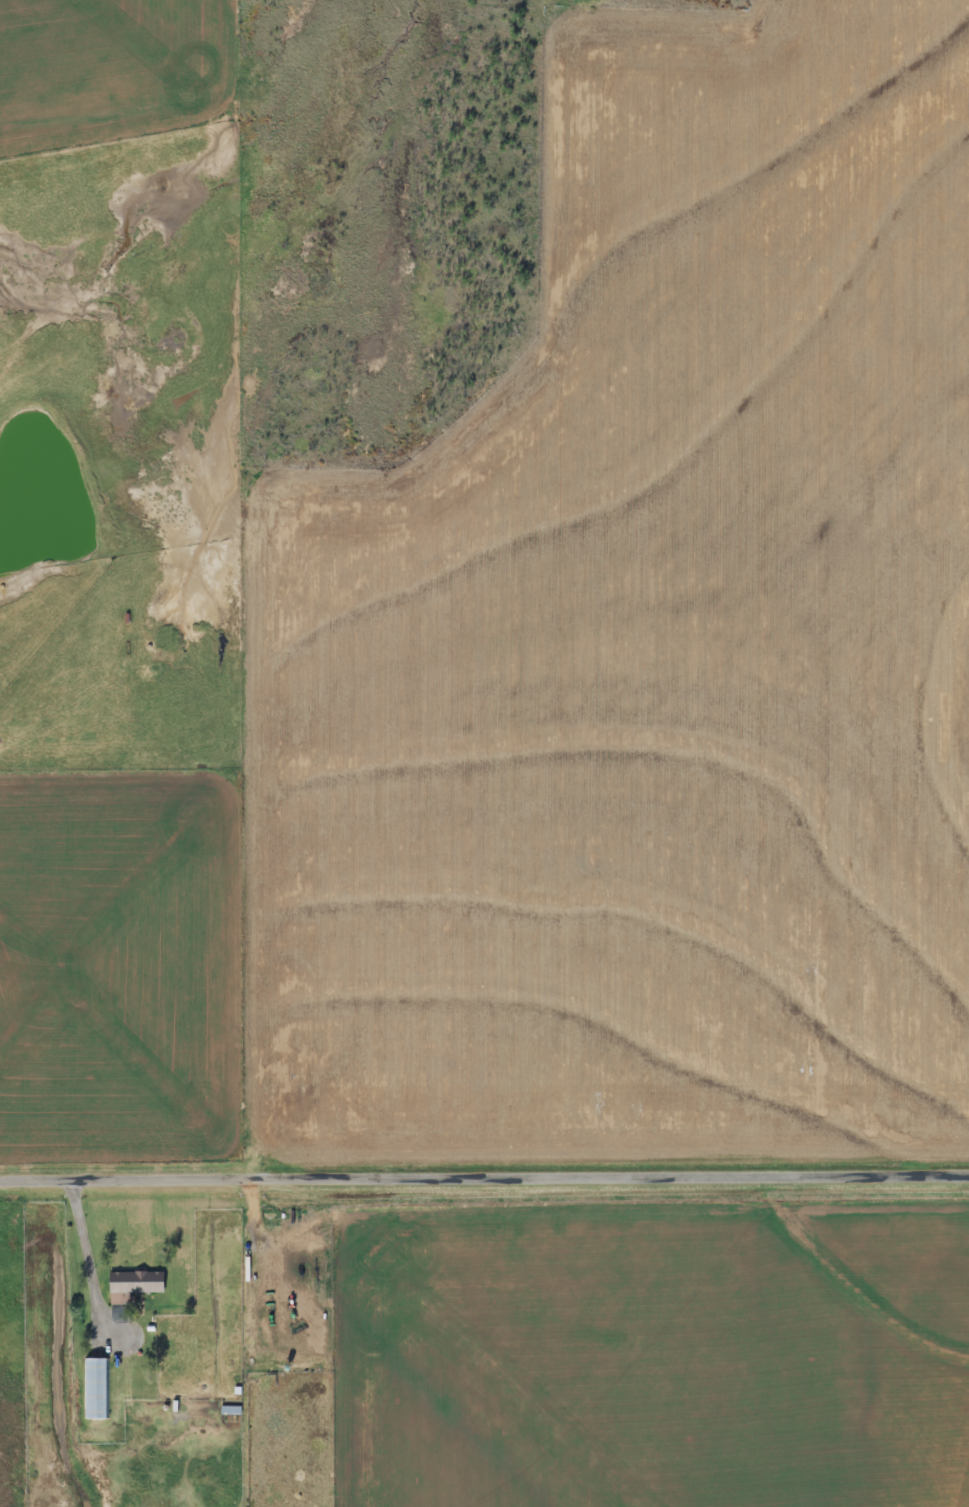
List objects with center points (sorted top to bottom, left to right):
road: (484, 1174)
road: (88, 1258)
building: (135, 1279)
building: (97, 1384)

